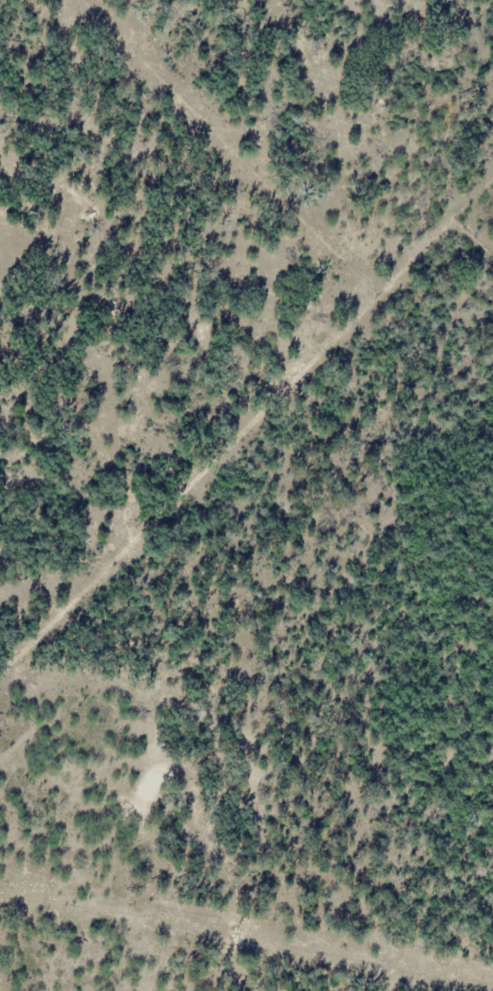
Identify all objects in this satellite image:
power tower: (232, 929)

